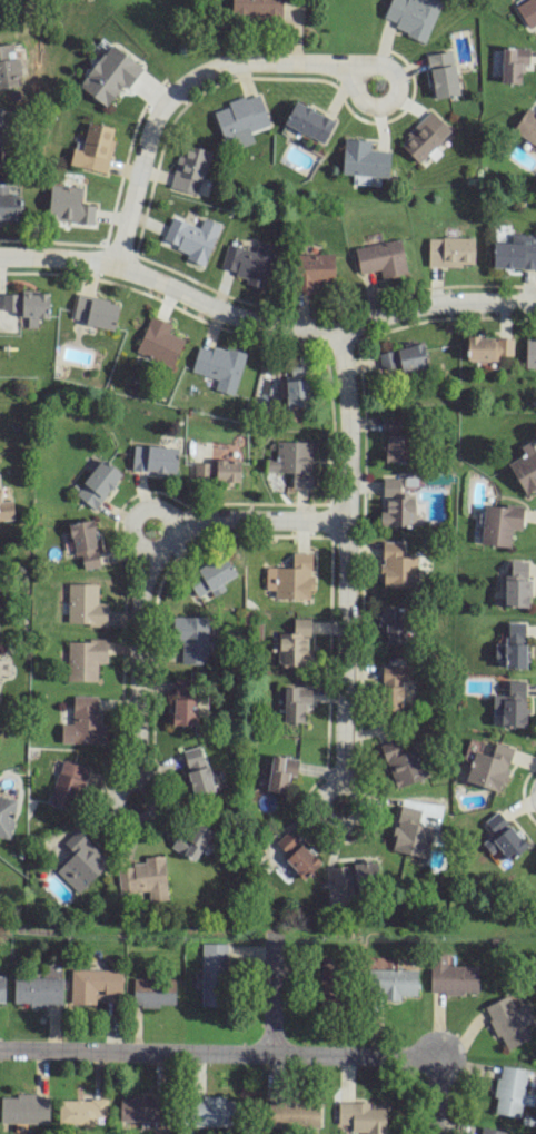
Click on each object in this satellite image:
road: (384, 103)
road: (137, 178)
road: (56, 257)
road: (417, 308)
road: (137, 511)
road: (347, 569)
road: (149, 578)
road: (272, 999)
road: (451, 1045)
road: (216, 1051)
road: (437, 1096)

